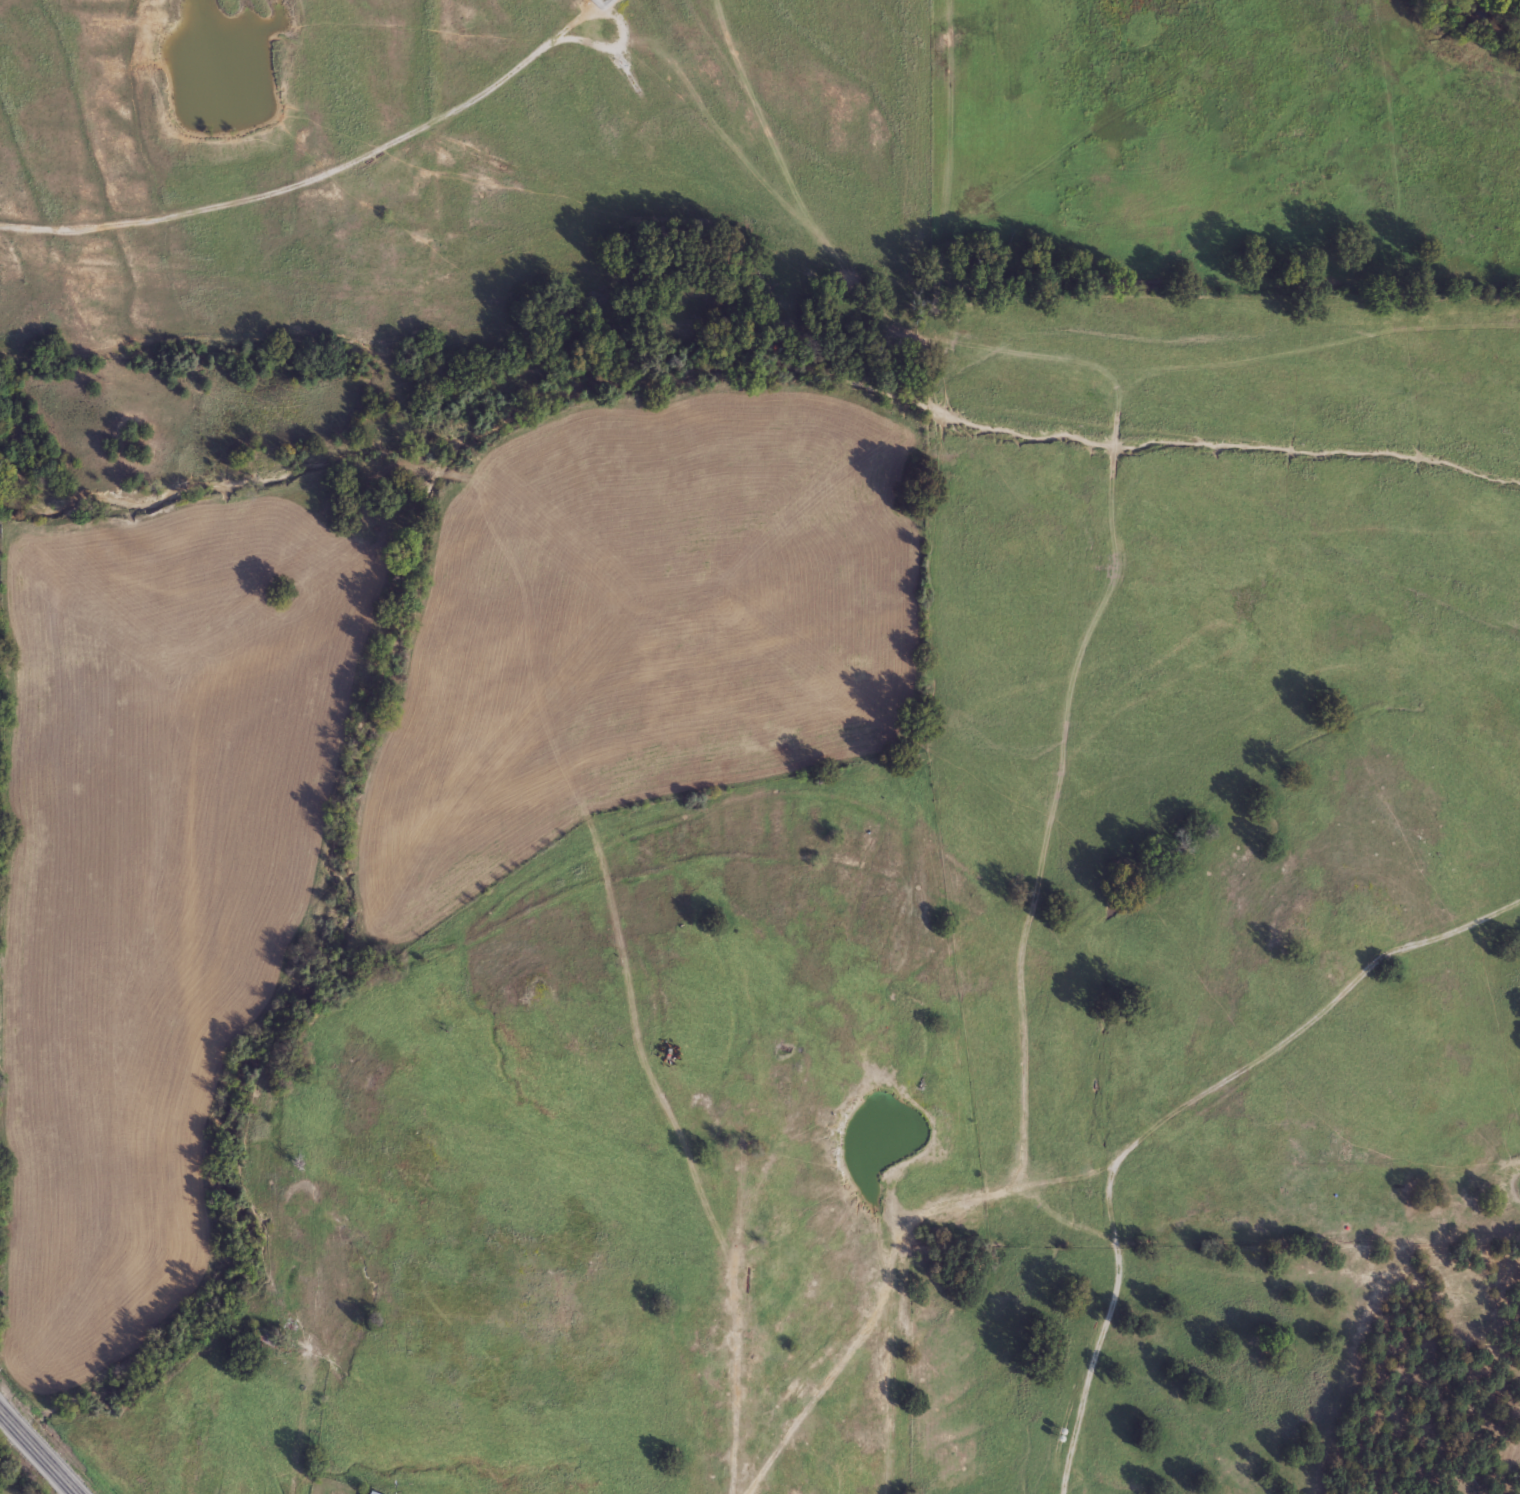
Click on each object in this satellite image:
building: (264, 1336)
road: (40, 1448)
building: (373, 1492)

